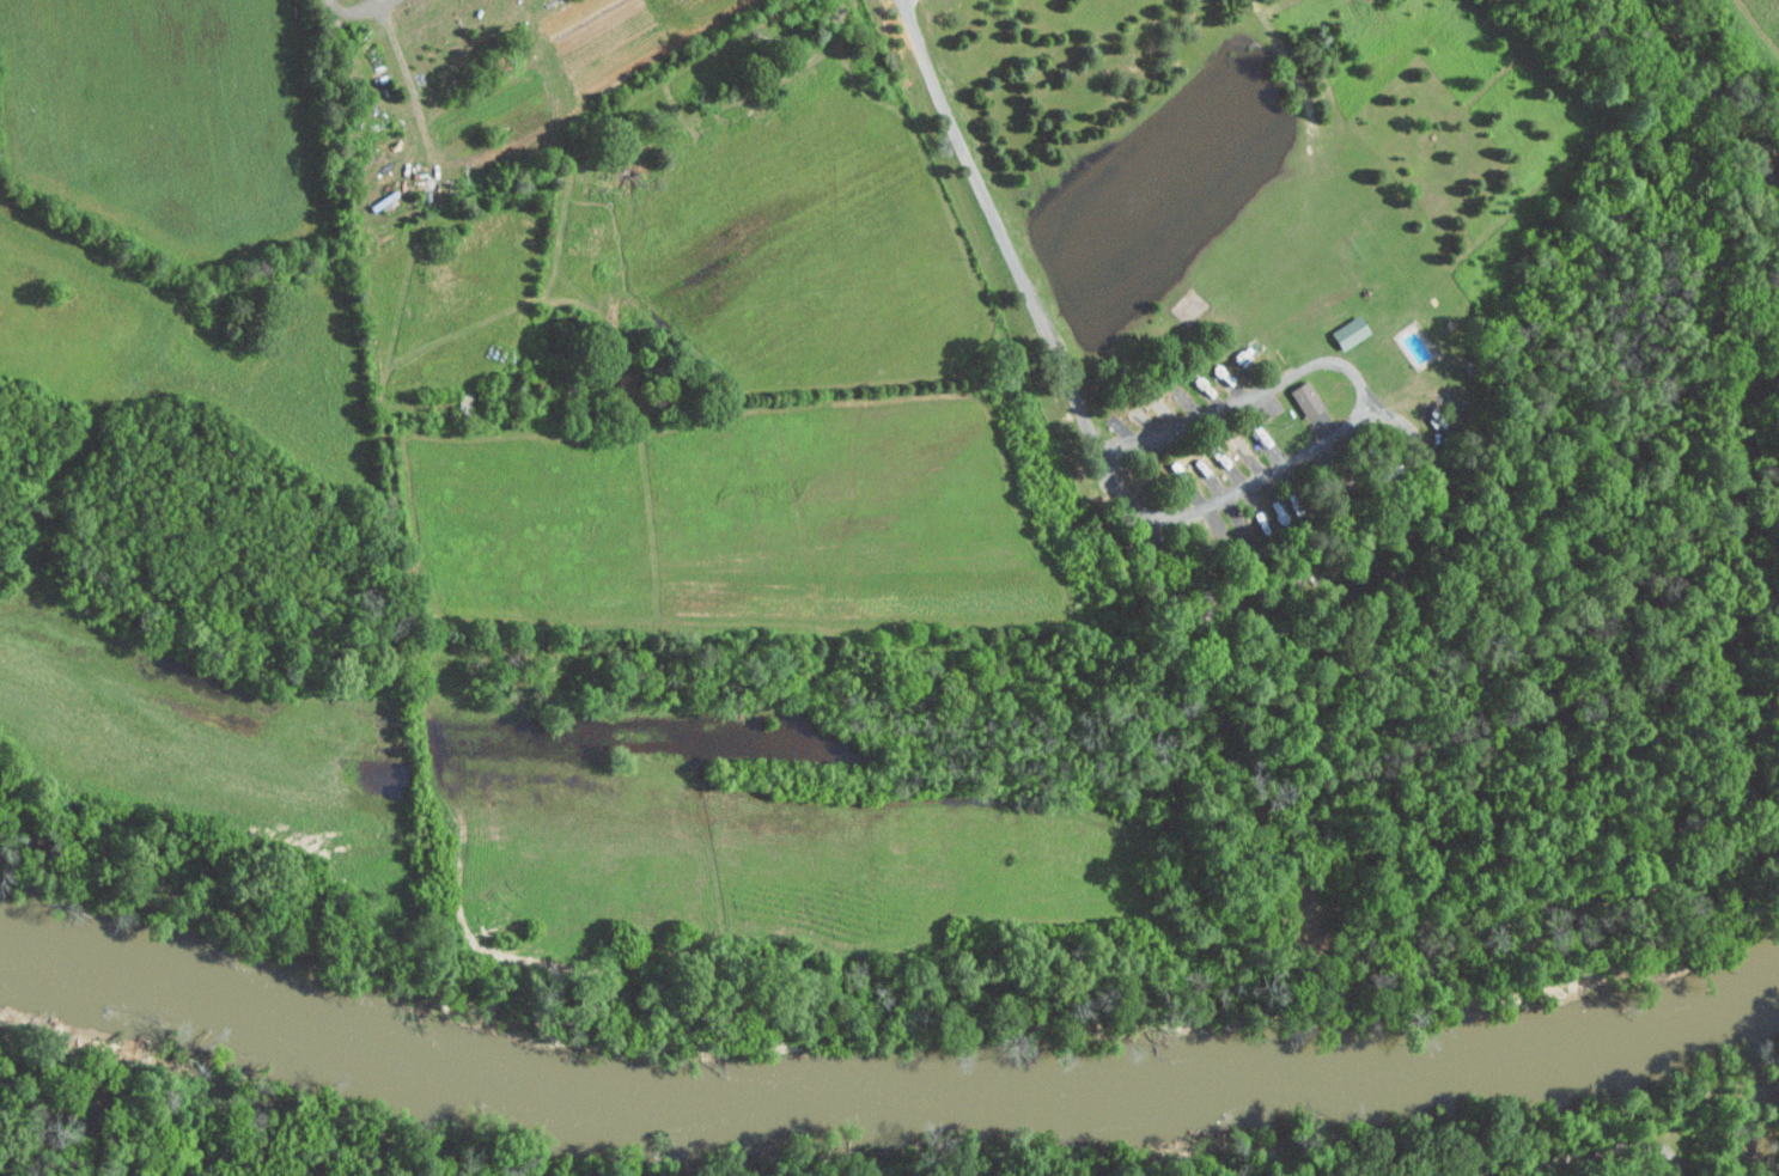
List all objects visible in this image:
road: (358, 11)
building: (495, 61)
road: (409, 81)
road: (998, 229)
building: (1347, 331)
building: (1304, 398)
road: (1360, 413)
river: (55, 951)
river: (1762, 1000)
river: (920, 1097)
park: (403, 1139)
road: (1594, 1153)

